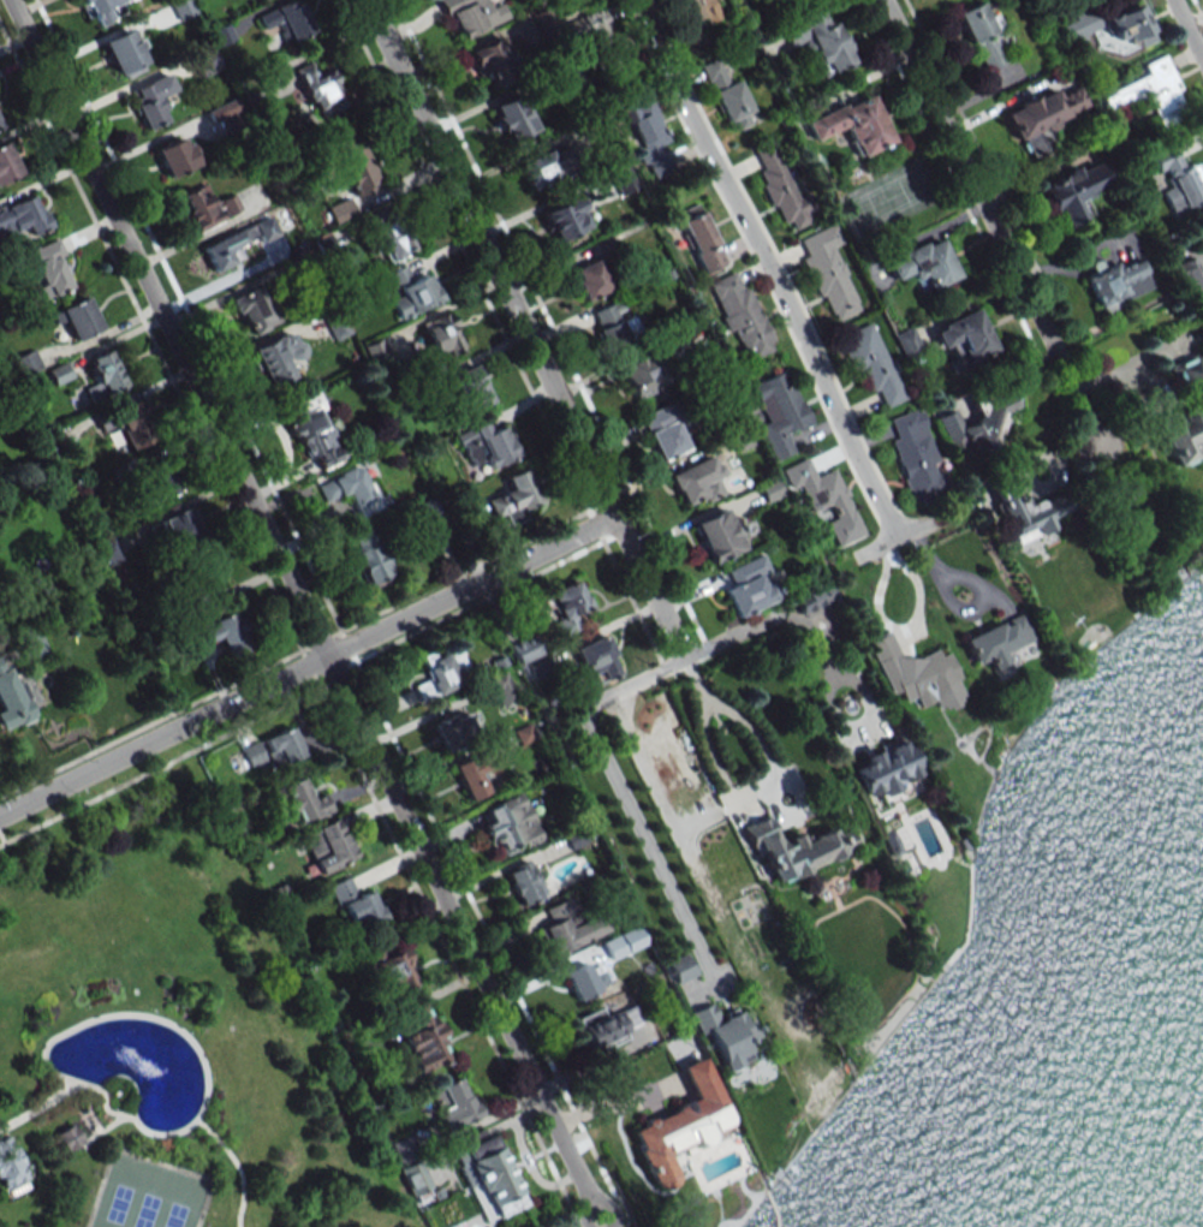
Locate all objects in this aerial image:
building: (576, 0)
road: (1198, 8)
building: (101, 10)
building: (697, 10)
building: (471, 16)
building: (285, 20)
building: (1127, 28)
road: (1187, 29)
building: (600, 32)
building: (983, 34)
building: (820, 41)
building: (124, 54)
building: (206, 60)
building: (490, 62)
building: (320, 89)
building: (1150, 91)
building: (727, 96)
building: (153, 101)
building: (227, 114)
building: (1043, 115)
building: (512, 118)
building: (852, 124)
building: (0, 127)
building: (649, 137)
building: (175, 156)
building: (352, 162)
building: (7, 163)
building: (1178, 179)
building: (780, 186)
building: (1072, 193)
building: (198, 208)
building: (341, 212)
building: (20, 218)
building: (565, 219)
road: (990, 222)
building: (391, 236)
building: (702, 240)
building: (224, 250)
building: (923, 264)
building: (48, 268)
road: (773, 268)
building: (828, 273)
building: (590, 279)
building: (1191, 279)
building: (1116, 282)
building: (411, 291)
building: (255, 310)
building: (740, 315)
building: (78, 318)
building: (613, 323)
building: (335, 324)
road: (524, 329)
building: (441, 335)
building: (964, 338)
building: (907, 344)
building: (377, 351)
building: (273, 361)
building: (25, 363)
building: (874, 367)
building: (59, 373)
building: (103, 376)
building: (641, 376)
building: (472, 386)
building: (778, 412)
building: (1185, 413)
building: (977, 423)
building: (127, 424)
building: (314, 431)
building: (665, 431)
building: (487, 443)
building: (916, 455)
building: (155, 483)
building: (697, 483)
building: (351, 489)
building: (770, 489)
building: (513, 498)
building: (824, 499)
building: (1025, 513)
building: (178, 528)
building: (717, 535)
road: (895, 542)
building: (369, 555)
building: (749, 586)
building: (811, 598)
building: (566, 607)
road: (304, 612)
building: (219, 633)
building: (996, 642)
building: (523, 649)
building: (596, 660)
road: (680, 660)
road: (306, 666)
building: (441, 672)
building: (917, 675)
building: (501, 689)
building: (10, 697)
building: (451, 731)
building: (282, 746)
building: (252, 754)
building: (882, 768)
building: (470, 778)
road: (733, 793)
building: (302, 802)
building: (508, 826)
road: (644, 841)
building: (328, 845)
building: (794, 850)
building: (523, 882)
building: (356, 905)
building: (567, 927)
building: (617, 943)
building: (678, 967)
building: (394, 972)
building: (584, 981)
road: (76, 1024)
building: (608, 1026)
park: (166, 1032)
building: (722, 1035)
building: (424, 1038)
building: (452, 1103)
road: (612, 1103)
road: (36, 1107)
road: (83, 1114)
building: (679, 1125)
road: (101, 1130)
building: (67, 1137)
building: (8, 1165)
road: (234, 1166)
building: (487, 1175)
park: (148, 1195)

